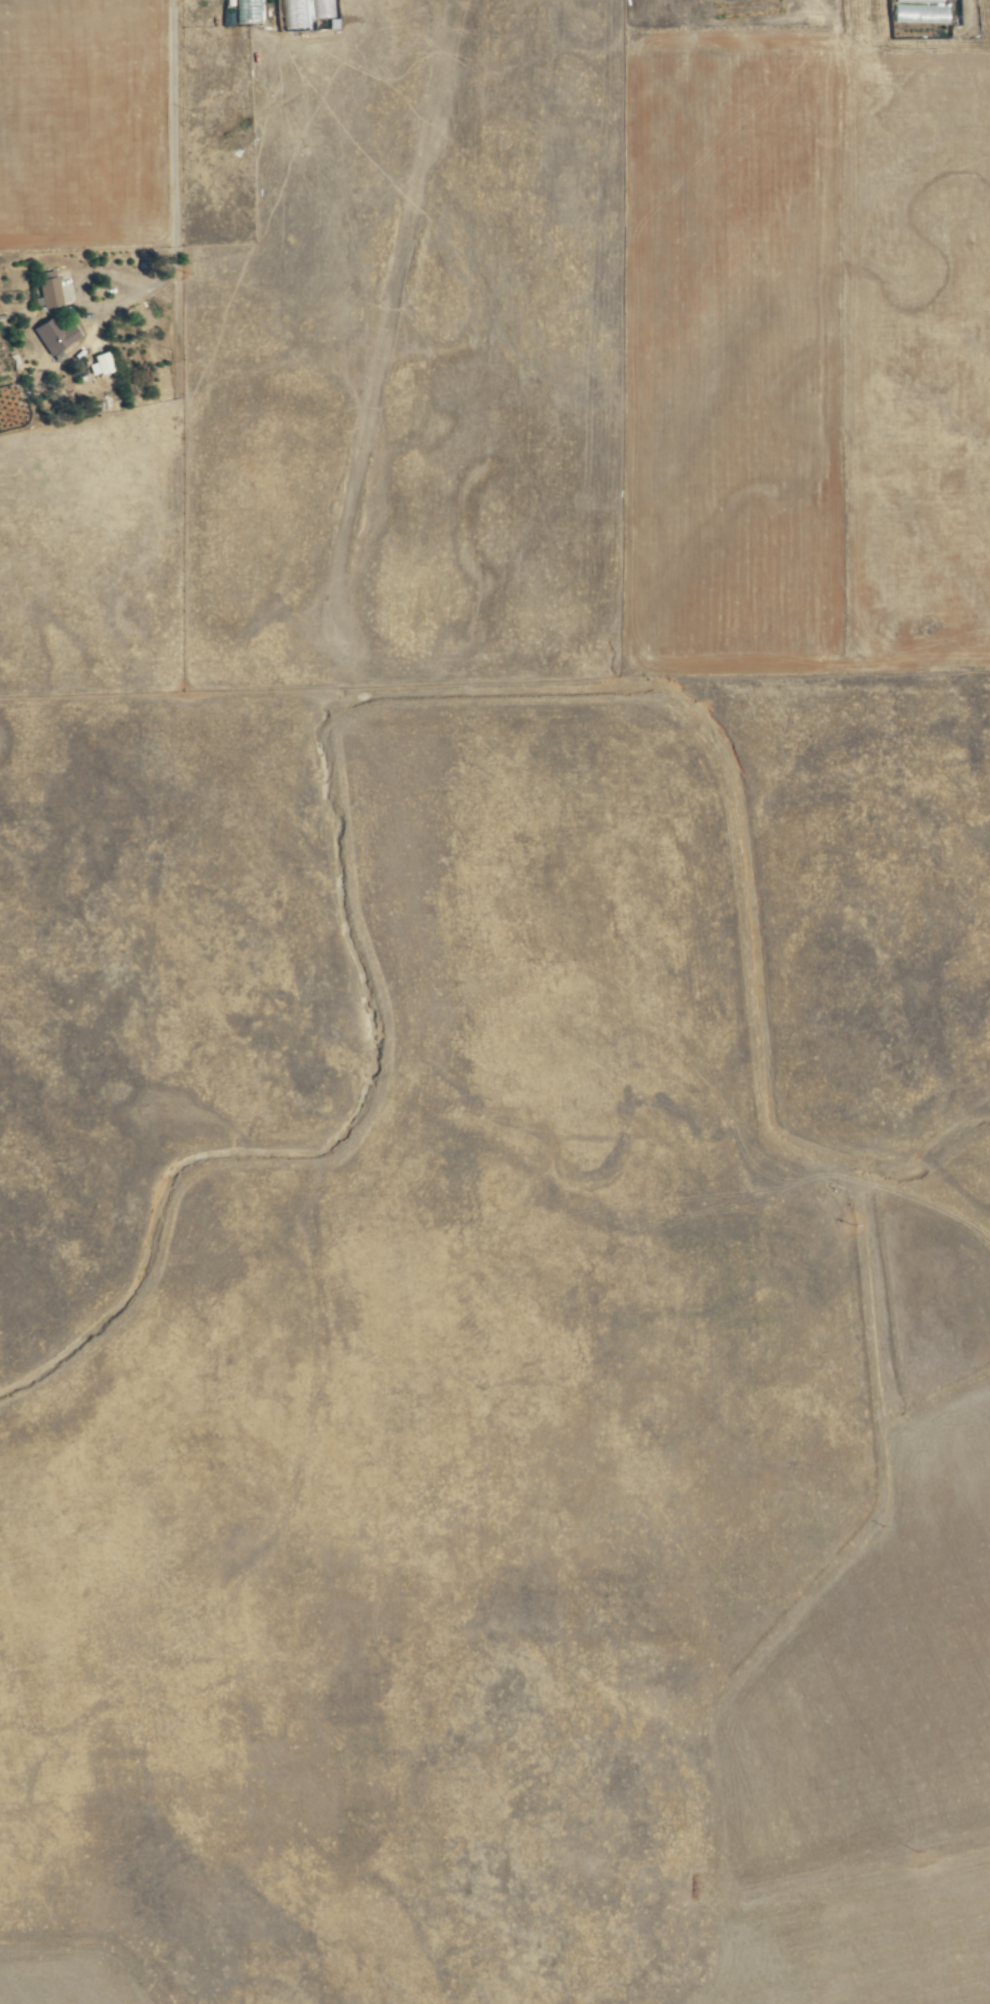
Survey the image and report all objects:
road: (172, 154)
building: (56, 336)

